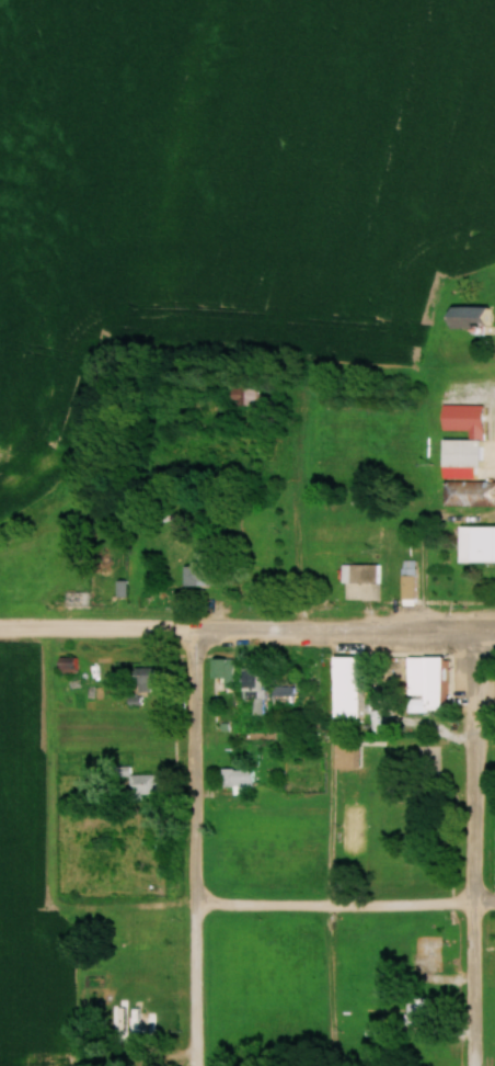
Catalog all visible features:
building: (475, 316)
building: (241, 394)
building: (465, 417)
building: (463, 455)
building: (470, 491)
road: (293, 519)
building: (480, 542)
building: (360, 571)
building: (199, 575)
building: (408, 577)
building: (119, 589)
road: (248, 631)
building: (221, 671)
building: (143, 680)
building: (426, 681)
building: (252, 684)
building: (348, 685)
building: (281, 694)
building: (424, 775)
building: (234, 779)
building: (142, 785)
road: (193, 848)
road: (471, 849)
road: (344, 903)
building: (417, 949)
building: (415, 1010)

